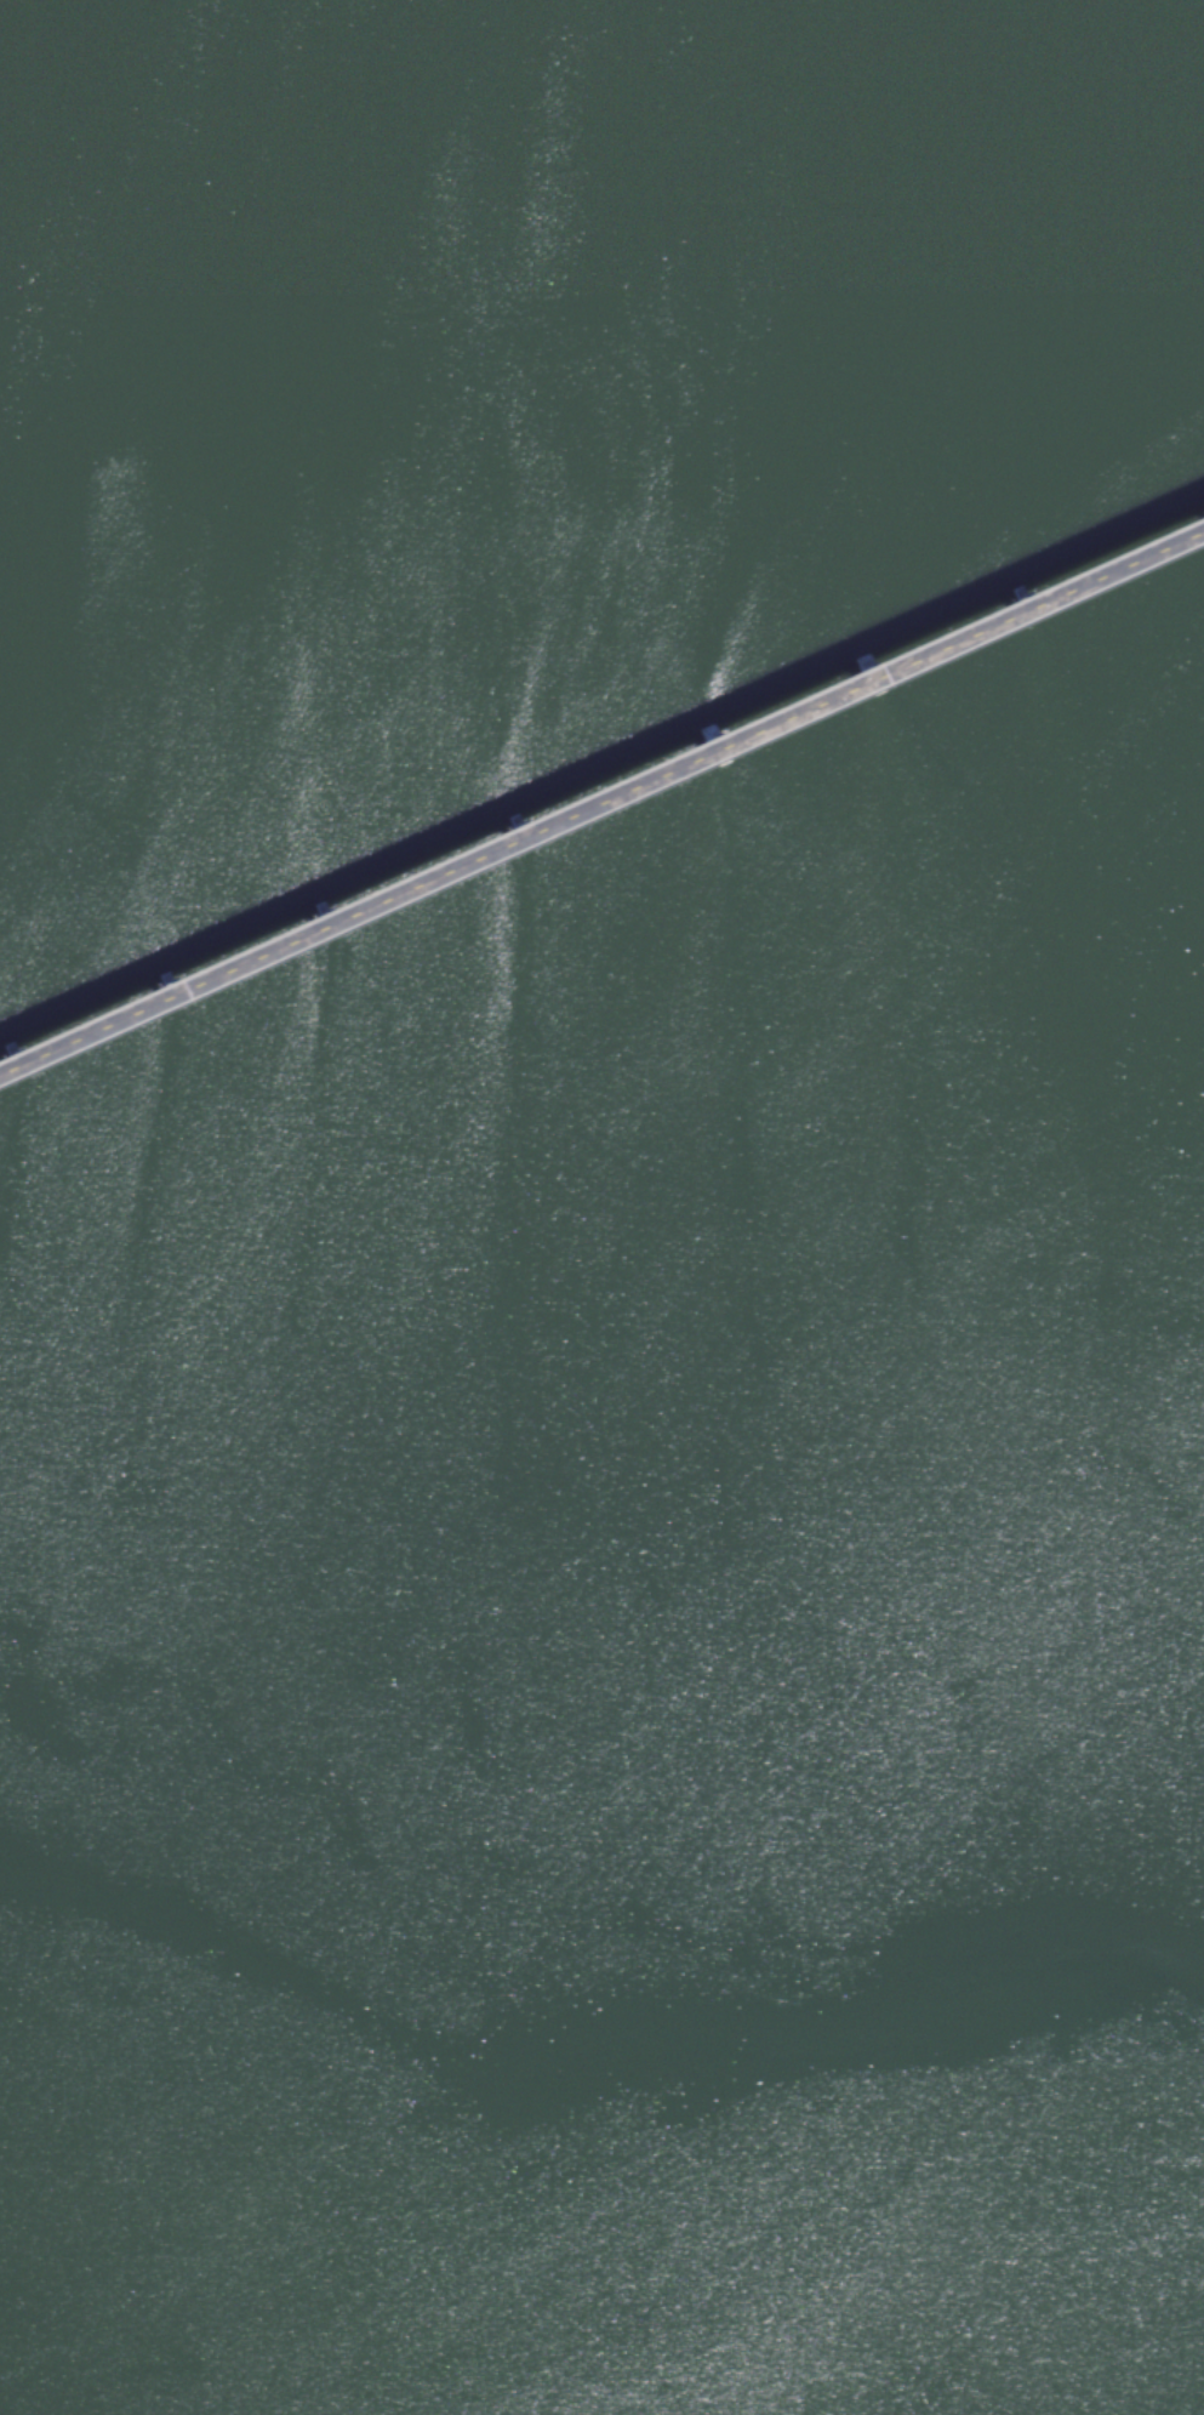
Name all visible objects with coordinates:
river: (948, 267)
road: (1066, 610)
road: (464, 879)

